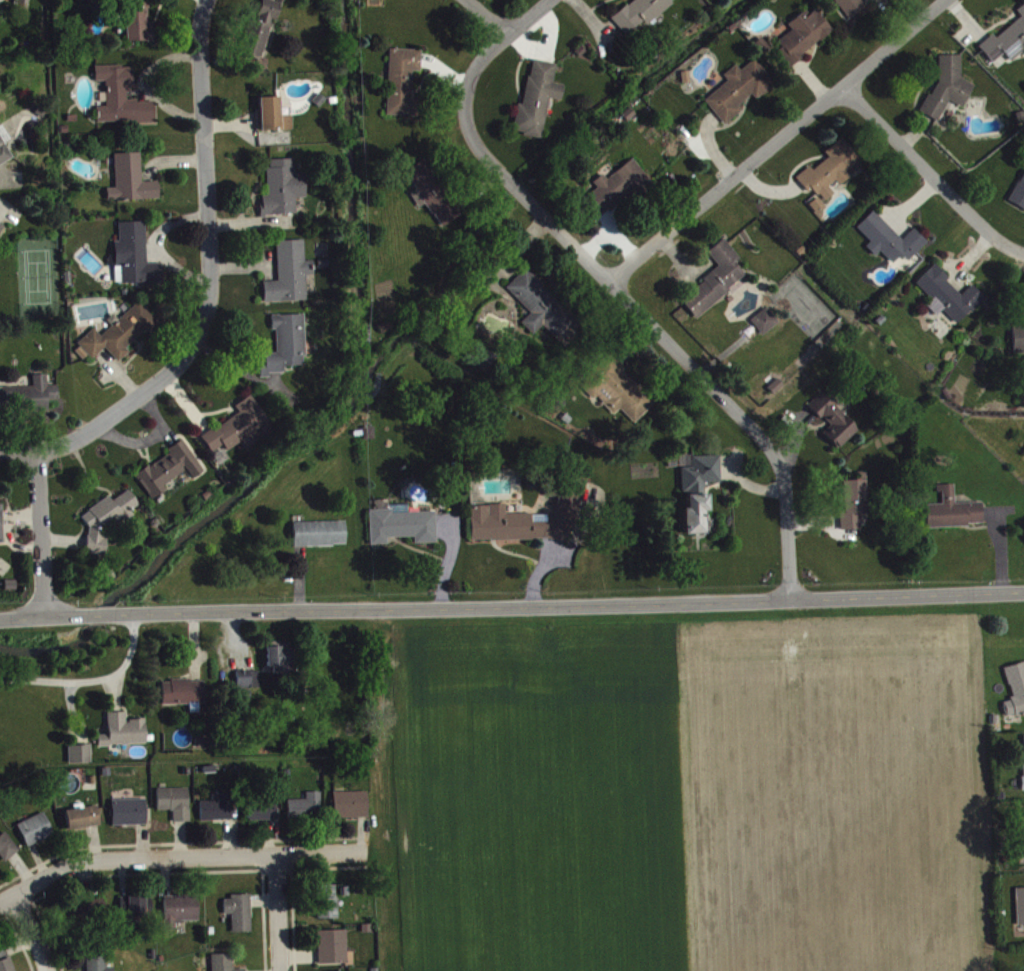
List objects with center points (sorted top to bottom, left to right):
building: (850, 8)
building: (642, 15)
road: (485, 16)
building: (138, 26)
building: (261, 33)
building: (804, 40)
building: (1008, 45)
building: (404, 86)
building: (949, 91)
building: (740, 94)
building: (123, 102)
building: (538, 103)
building: (273, 120)
road: (776, 139)
building: (4, 151)
road: (930, 173)
building: (830, 175)
building: (131, 184)
building: (283, 192)
building: (618, 192)
building: (434, 197)
building: (1019, 199)
building: (819, 210)
building: (1, 231)
building: (891, 243)
building: (134, 261)
building: (290, 278)
building: (717, 284)
road: (616, 286)
building: (950, 300)
building: (545, 313)
building: (767, 325)
building: (119, 338)
building: (1019, 344)
road: (190, 348)
building: (286, 349)
building: (622, 396)
building: (29, 399)
building: (835, 425)
building: (240, 432)
road: (17, 451)
building: (170, 473)
building: (699, 495)
building: (853, 508)
building: (955, 515)
building: (107, 525)
building: (529, 525)
building: (1, 530)
building: (403, 530)
building: (320, 538)
road: (572, 602)
road: (107, 613)
road: (46, 614)
building: (280, 664)
road: (89, 679)
building: (248, 683)
building: (1016, 694)
building: (184, 697)
building: (124, 735)
building: (81, 758)
building: (176, 807)
building: (351, 809)
building: (307, 810)
building: (218, 813)
building: (263, 815)
building: (130, 816)
building: (84, 822)
building: (37, 834)
building: (8, 851)
road: (176, 855)
building: (328, 906)
building: (1021, 910)
road: (277, 912)
building: (89, 914)
building: (137, 914)
building: (181, 915)
building: (240, 917)
road: (32, 932)
building: (334, 951)
building: (5, 962)
building: (97, 964)
building: (223, 964)

